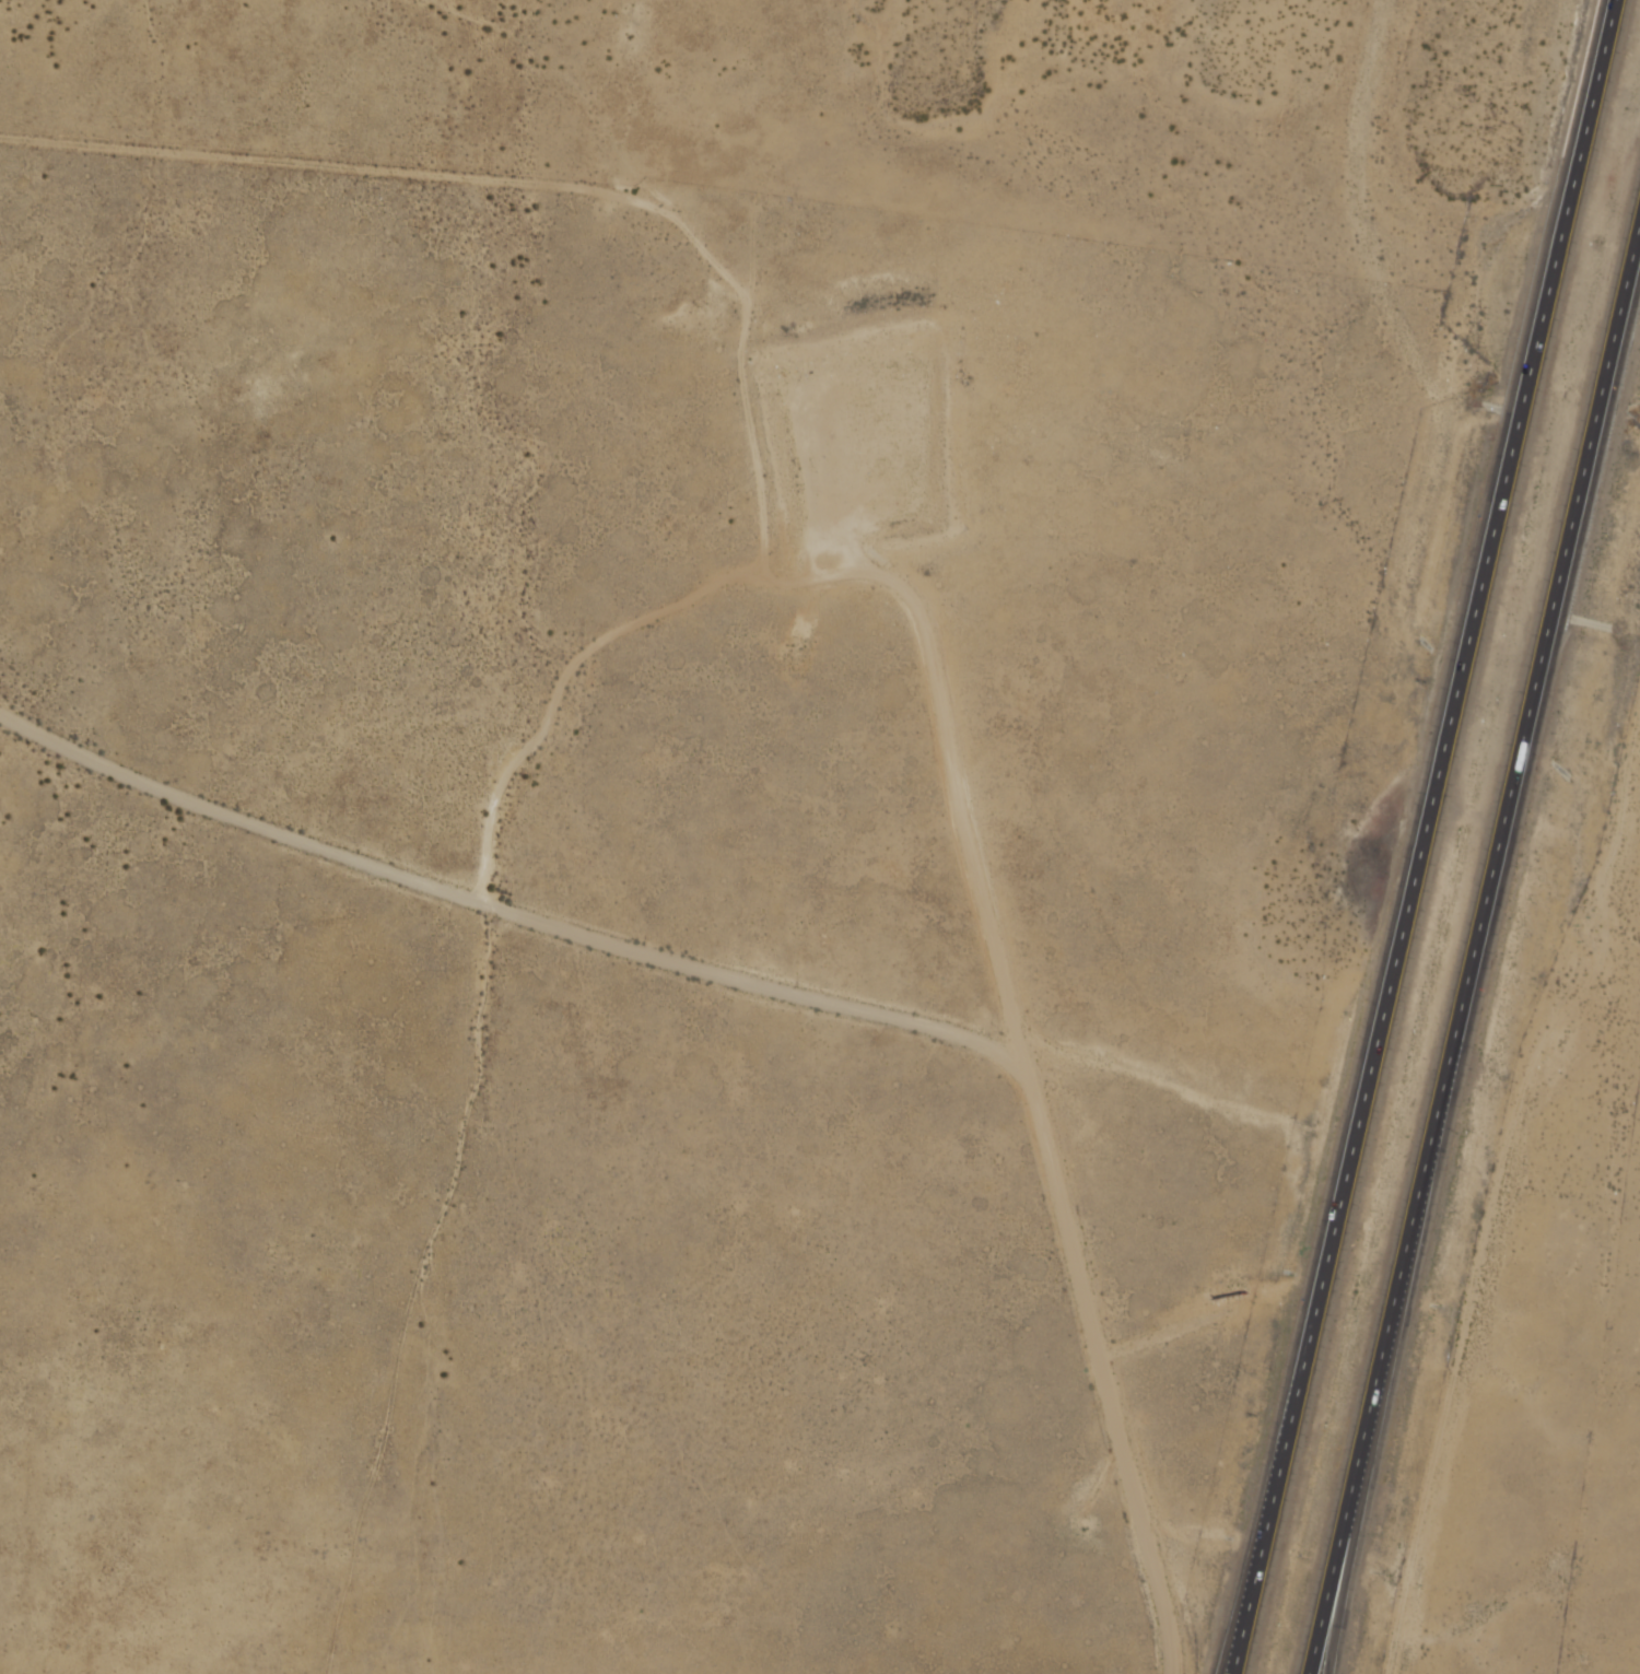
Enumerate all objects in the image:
road: (1425, 836)
road: (1478, 961)
road: (1242, 1609)
road: (1323, 1657)

